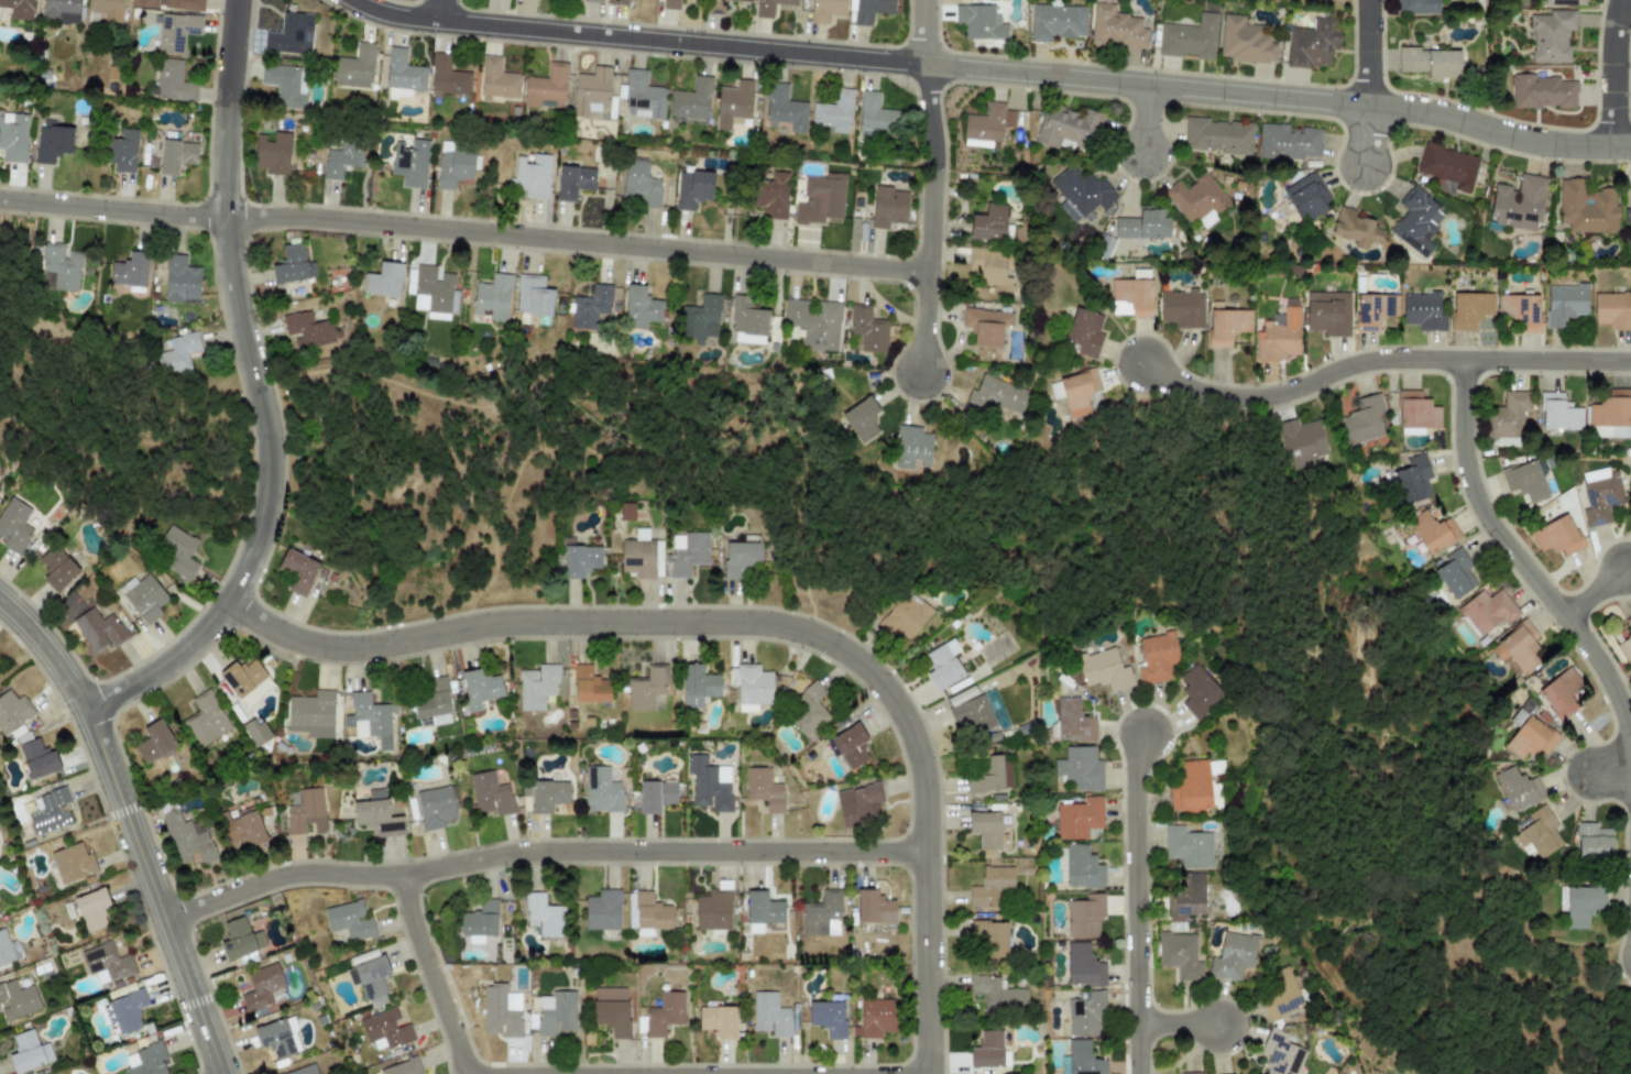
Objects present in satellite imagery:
building: (592, 1)
building: (620, 2)
building: (1562, 2)
building: (180, 4)
building: (670, 4)
building: (720, 6)
building: (769, 7)
building: (1417, 7)
building: (19, 9)
road: (438, 10)
building: (827, 10)
building: (871, 10)
building: (61, 11)
building: (979, 22)
building: (1057, 22)
building: (1115, 28)
building: (176, 31)
road: (922, 31)
building: (291, 34)
building: (1551, 35)
building: (1189, 37)
building: (1245, 41)
road: (692, 43)
building: (1311, 44)
road: (230, 53)
road: (1367, 53)
building: (1429, 62)
building: (354, 67)
building: (403, 73)
road: (1611, 73)
building: (447, 77)
building: (496, 80)
building: (173, 81)
building: (284, 85)
building: (547, 87)
road: (1202, 89)
building: (590, 90)
building: (1542, 91)
building: (642, 96)
building: (691, 99)
building: (733, 105)
building: (785, 109)
building: (833, 111)
building: (875, 114)
road: (929, 116)
road: (1146, 119)
building: (987, 125)
building: (1066, 125)
road: (1498, 132)
building: (1217, 135)
road: (1365, 135)
building: (13, 136)
building: (1288, 142)
building: (52, 143)
building: (121, 151)
building: (272, 153)
building: (176, 155)
building: (340, 160)
building: (409, 162)
building: (1447, 165)
building: (453, 167)
building: (532, 175)
building: (573, 182)
building: (641, 184)
building: (692, 188)
building: (1081, 190)
building: (770, 195)
building: (1306, 197)
building: (820, 199)
building: (1196, 199)
building: (1519, 202)
building: (887, 206)
building: (1586, 207)
building: (1630, 213)
road: (935, 221)
building: (1416, 221)
building: (988, 222)
building: (1142, 223)
building: (1355, 229)
road: (467, 232)
building: (291, 264)
building: (990, 266)
building: (58, 267)
building: (130, 271)
building: (179, 280)
building: (383, 280)
building: (435, 293)
building: (533, 295)
building: (492, 297)
building: (1131, 297)
building: (1564, 303)
building: (590, 307)
building: (639, 307)
building: (1181, 307)
building: (1470, 309)
building: (1373, 310)
building: (1423, 310)
building: (1520, 310)
building: (1612, 310)
building: (1327, 313)
building: (700, 319)
building: (747, 321)
building: (813, 322)
road: (930, 324)
building: (985, 326)
building: (1227, 326)
building: (867, 328)
building: (1083, 332)
building: (308, 333)
building: (177, 354)
road: (1547, 361)
road: (1309, 391)
building: (1079, 393)
building: (997, 396)
building: (1415, 413)
building: (1558, 413)
building: (1609, 415)
building: (1507, 416)
building: (862, 419)
building: (1362, 420)
building: (1301, 441)
building: (911, 447)
road: (274, 449)
building: (1412, 478)
building: (1525, 481)
building: (1600, 495)
building: (14, 526)
building: (1432, 531)
building: (1556, 536)
building: (175, 551)
building: (687, 552)
building: (641, 555)
building: (741, 558)
road: (1520, 559)
building: (580, 560)
building: (56, 568)
building: (297, 571)
building: (1455, 572)
road: (1596, 593)
building: (143, 596)
building: (1485, 611)
building: (904, 616)
road: (759, 618)
building: (98, 629)
building: (1625, 640)
building: (1517, 648)
building: (1157, 657)
building: (943, 665)
building: (1103, 669)
building: (247, 680)
building: (536, 686)
building: (590, 686)
building: (697, 686)
building: (749, 686)
building: (480, 688)
building: (645, 688)
building: (1197, 691)
building: (1559, 692)
building: (433, 702)
building: (808, 710)
building: (12, 711)
building: (968, 711)
building: (311, 713)
building: (206, 719)
building: (370, 720)
building: (1073, 721)
building: (255, 731)
building: (1529, 739)
building: (154, 742)
building: (850, 745)
building: (37, 758)
building: (1080, 768)
road: (1610, 768)
building: (986, 776)
building: (708, 783)
building: (1191, 787)
building: (763, 788)
building: (1517, 788)
building: (601, 790)
building: (490, 793)
building: (548, 794)
building: (655, 796)
building: (858, 803)
building: (435, 807)
building: (50, 811)
building: (306, 812)
building: (376, 814)
building: (1077, 818)
road: (130, 825)
building: (242, 828)
building: (985, 829)
building: (1537, 833)
building: (187, 837)
building: (1594, 842)
building: (1187, 846)
road: (539, 848)
building: (72, 863)
building: (1082, 867)
building: (990, 885)
building: (1186, 895)
road: (1132, 901)
building: (1583, 905)
building: (873, 907)
building: (88, 909)
building: (602, 910)
building: (713, 910)
building: (762, 910)
building: (646, 911)
building: (544, 914)
building: (821, 914)
building: (1084, 916)
building: (349, 920)
building: (479, 921)
building: (989, 936)
building: (4, 950)
building: (1179, 955)
building: (1233, 955)
building: (106, 963)
building: (1083, 965)
road: (431, 974)
building: (372, 979)
building: (261, 987)
building: (1280, 993)
building: (996, 994)
building: (18, 999)
building: (127, 1010)
building: (611, 1010)
building: (499, 1012)
building: (1083, 1012)
building: (664, 1013)
building: (770, 1013)
building: (828, 1017)
building: (875, 1017)
building: (719, 1021)
road: (1175, 1021)
building: (384, 1030)
building: (277, 1038)
building: (986, 1050)
building: (28, 1052)
building: (1280, 1053)
building: (1083, 1059)
building: (147, 1060)
building: (403, 1067)
building: (304, 1070)
road: (748, 1073)
road: (885, 1073)
building: (1192, 1073)

